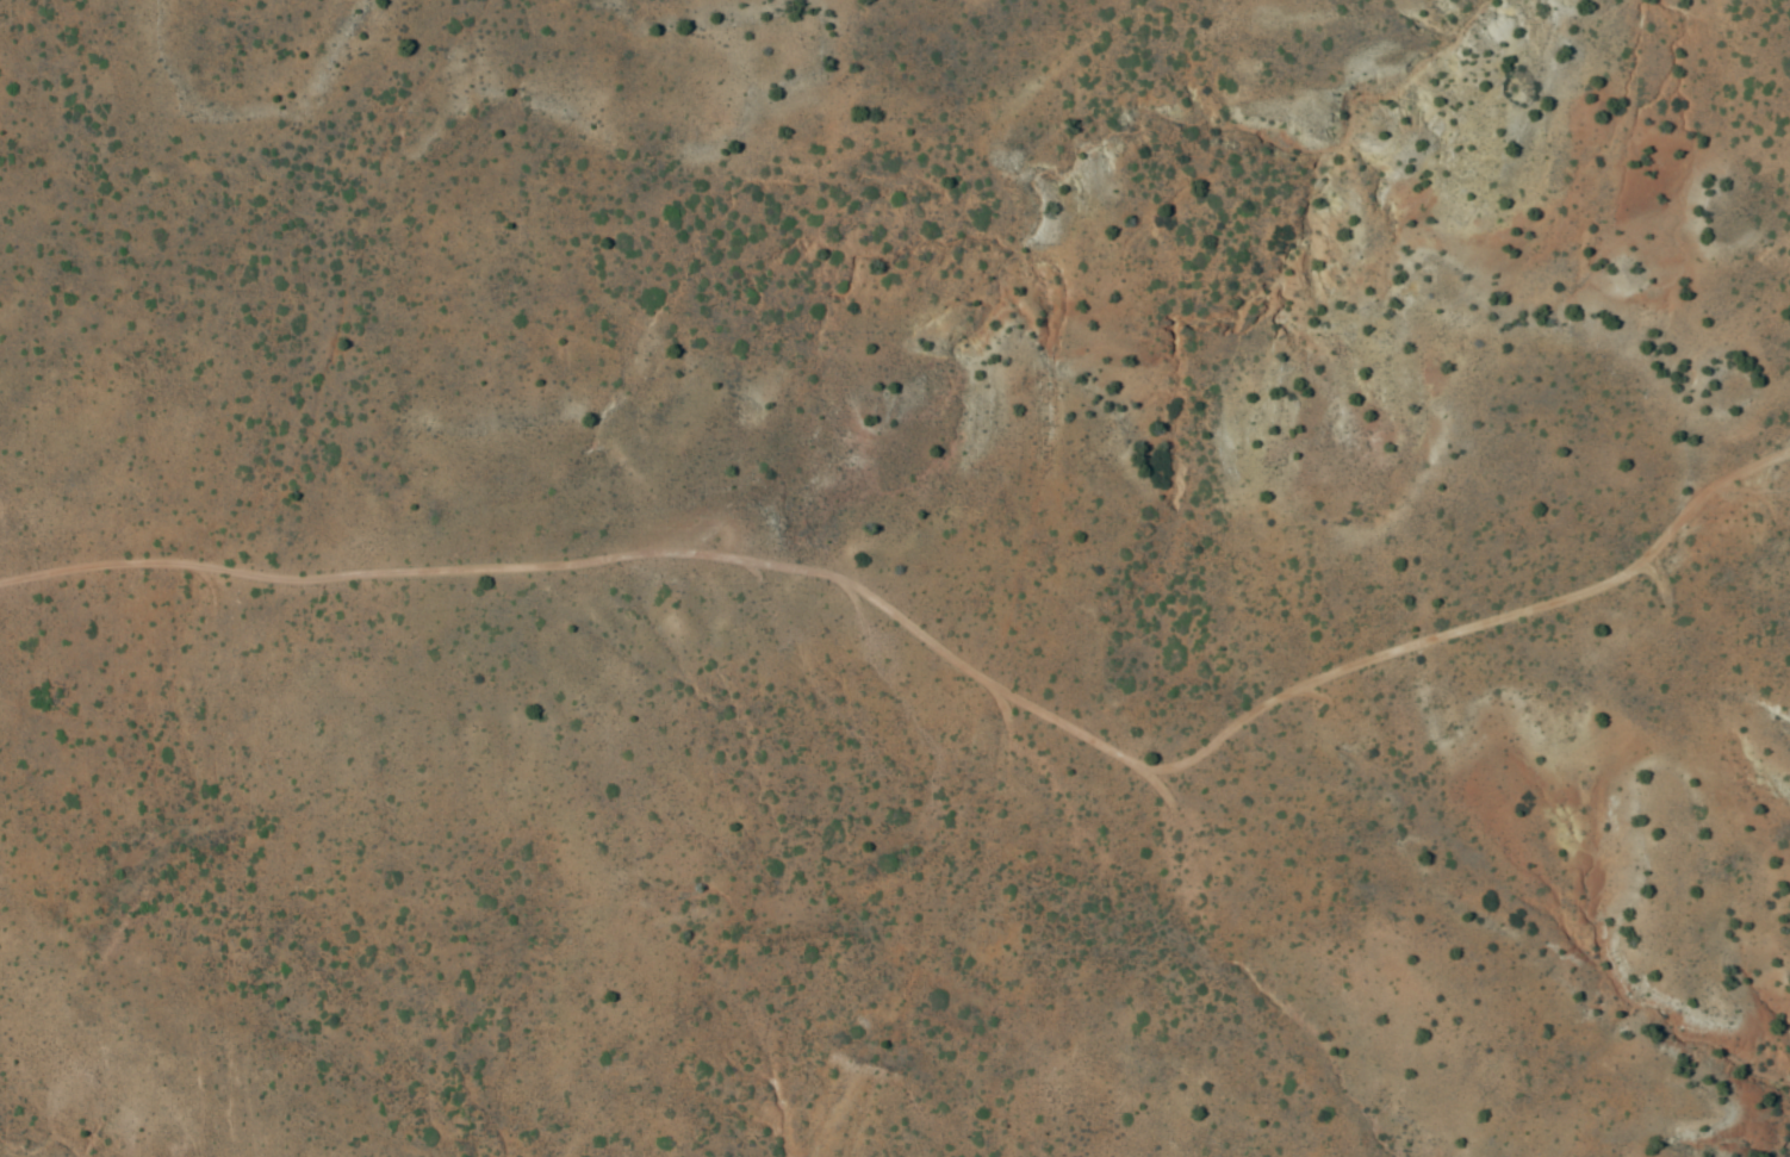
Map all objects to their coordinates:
road: (945, 624)

